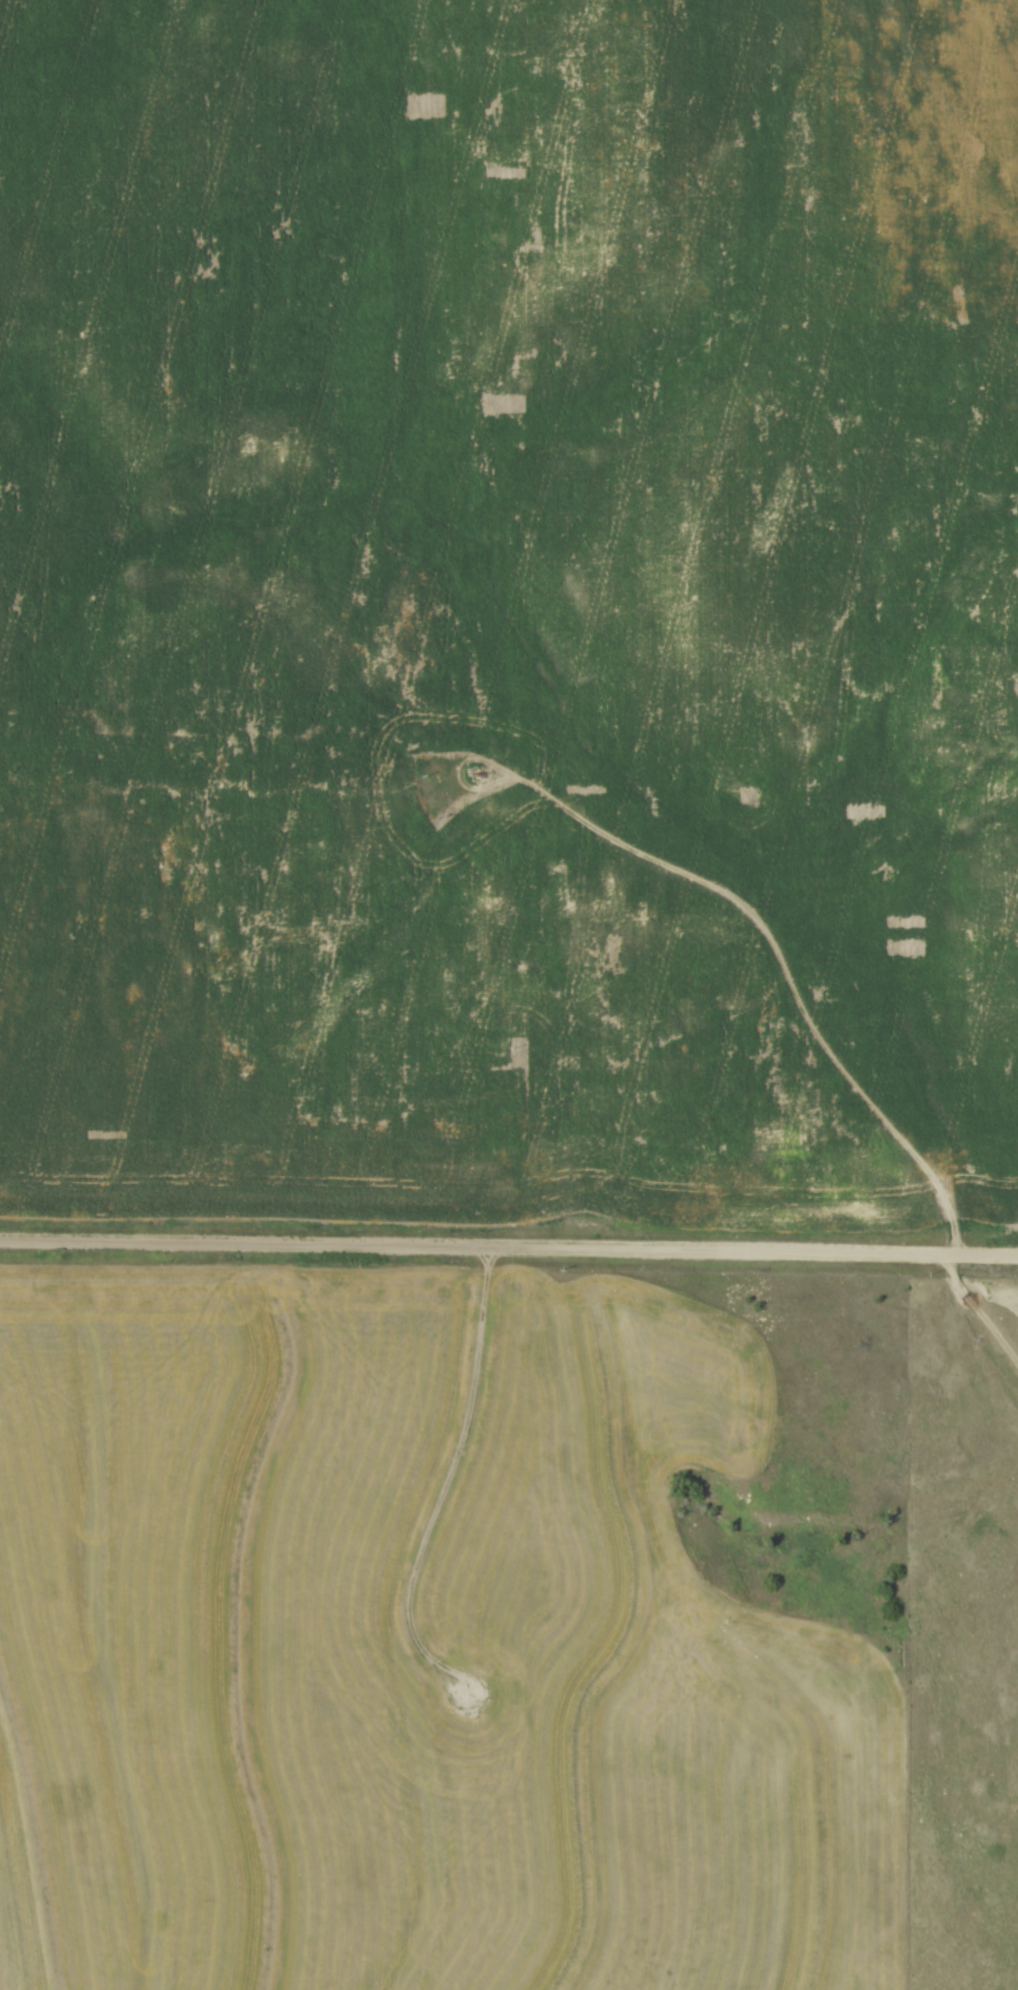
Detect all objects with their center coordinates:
road: (509, 1244)

